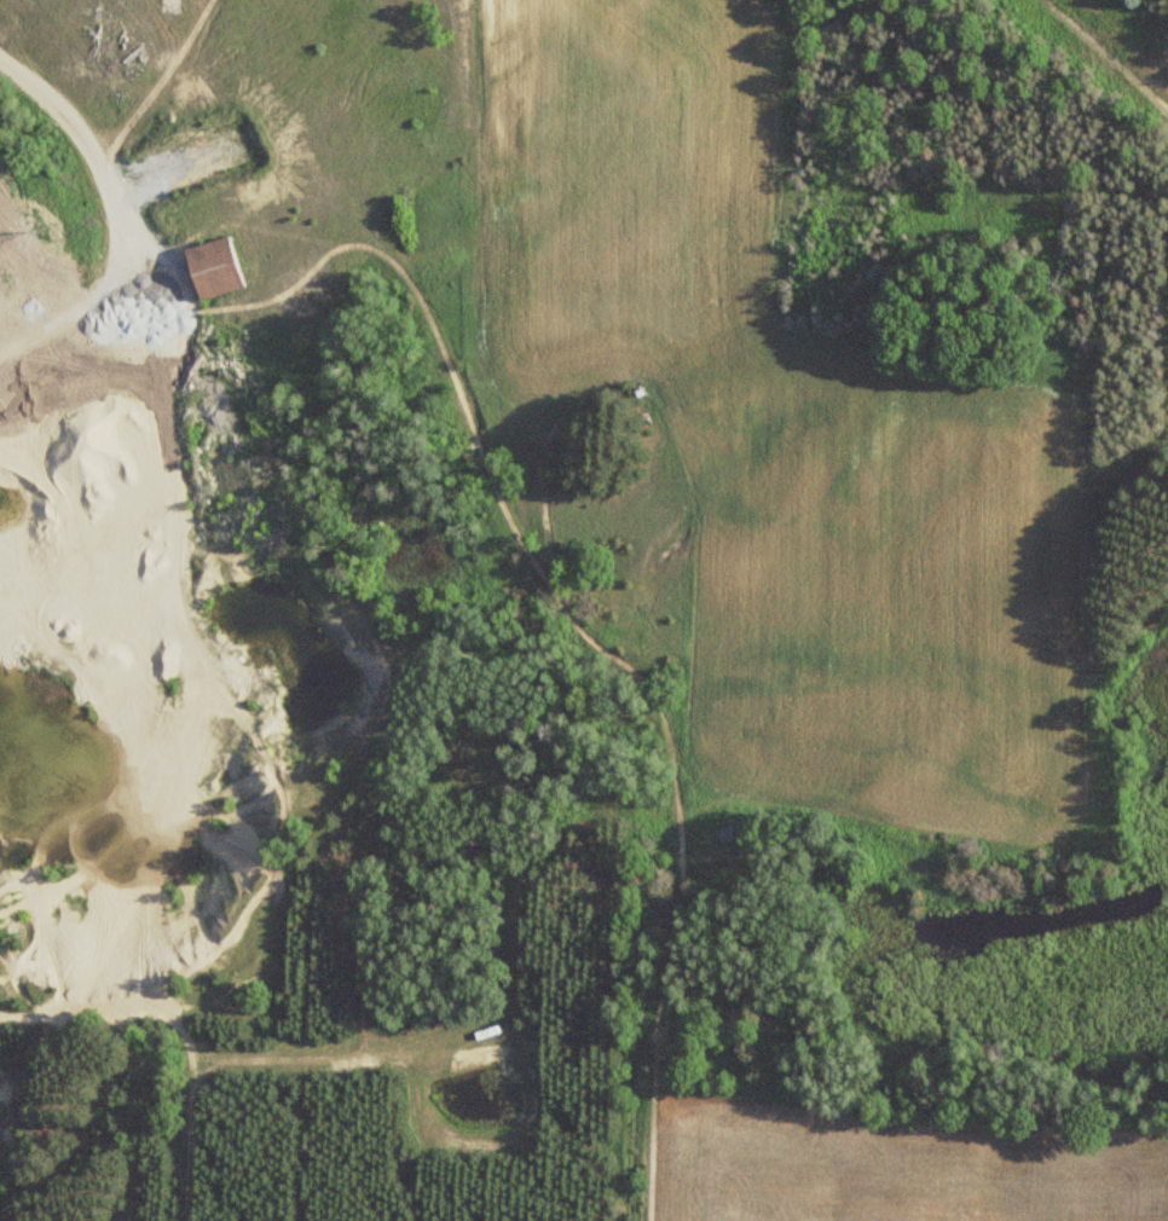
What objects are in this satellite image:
road: (112, 185)
building: (214, 267)
quarry: (167, 673)

